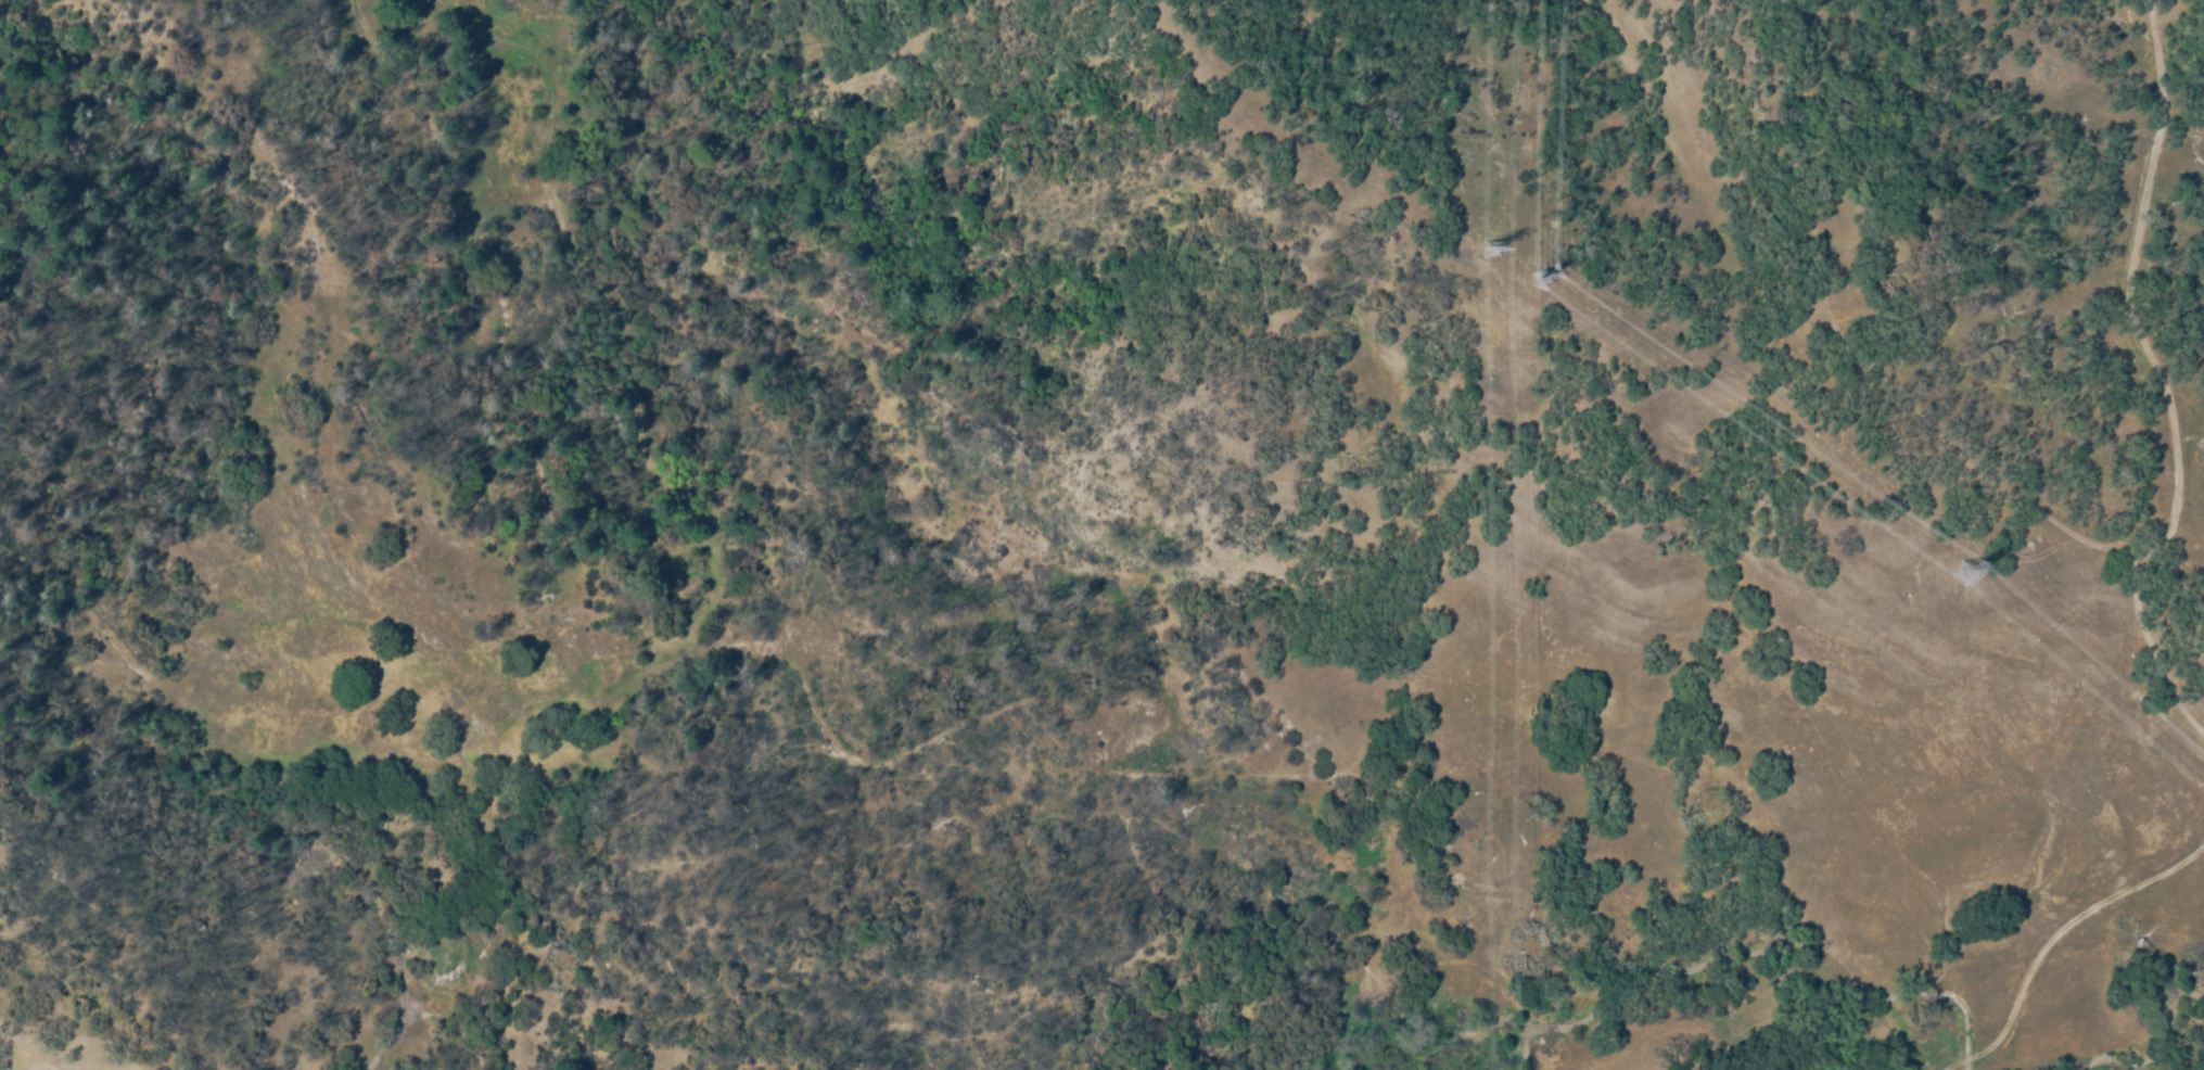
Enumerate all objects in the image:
power tower: (1500, 251)
power tower: (1549, 279)
power tower: (1966, 575)

